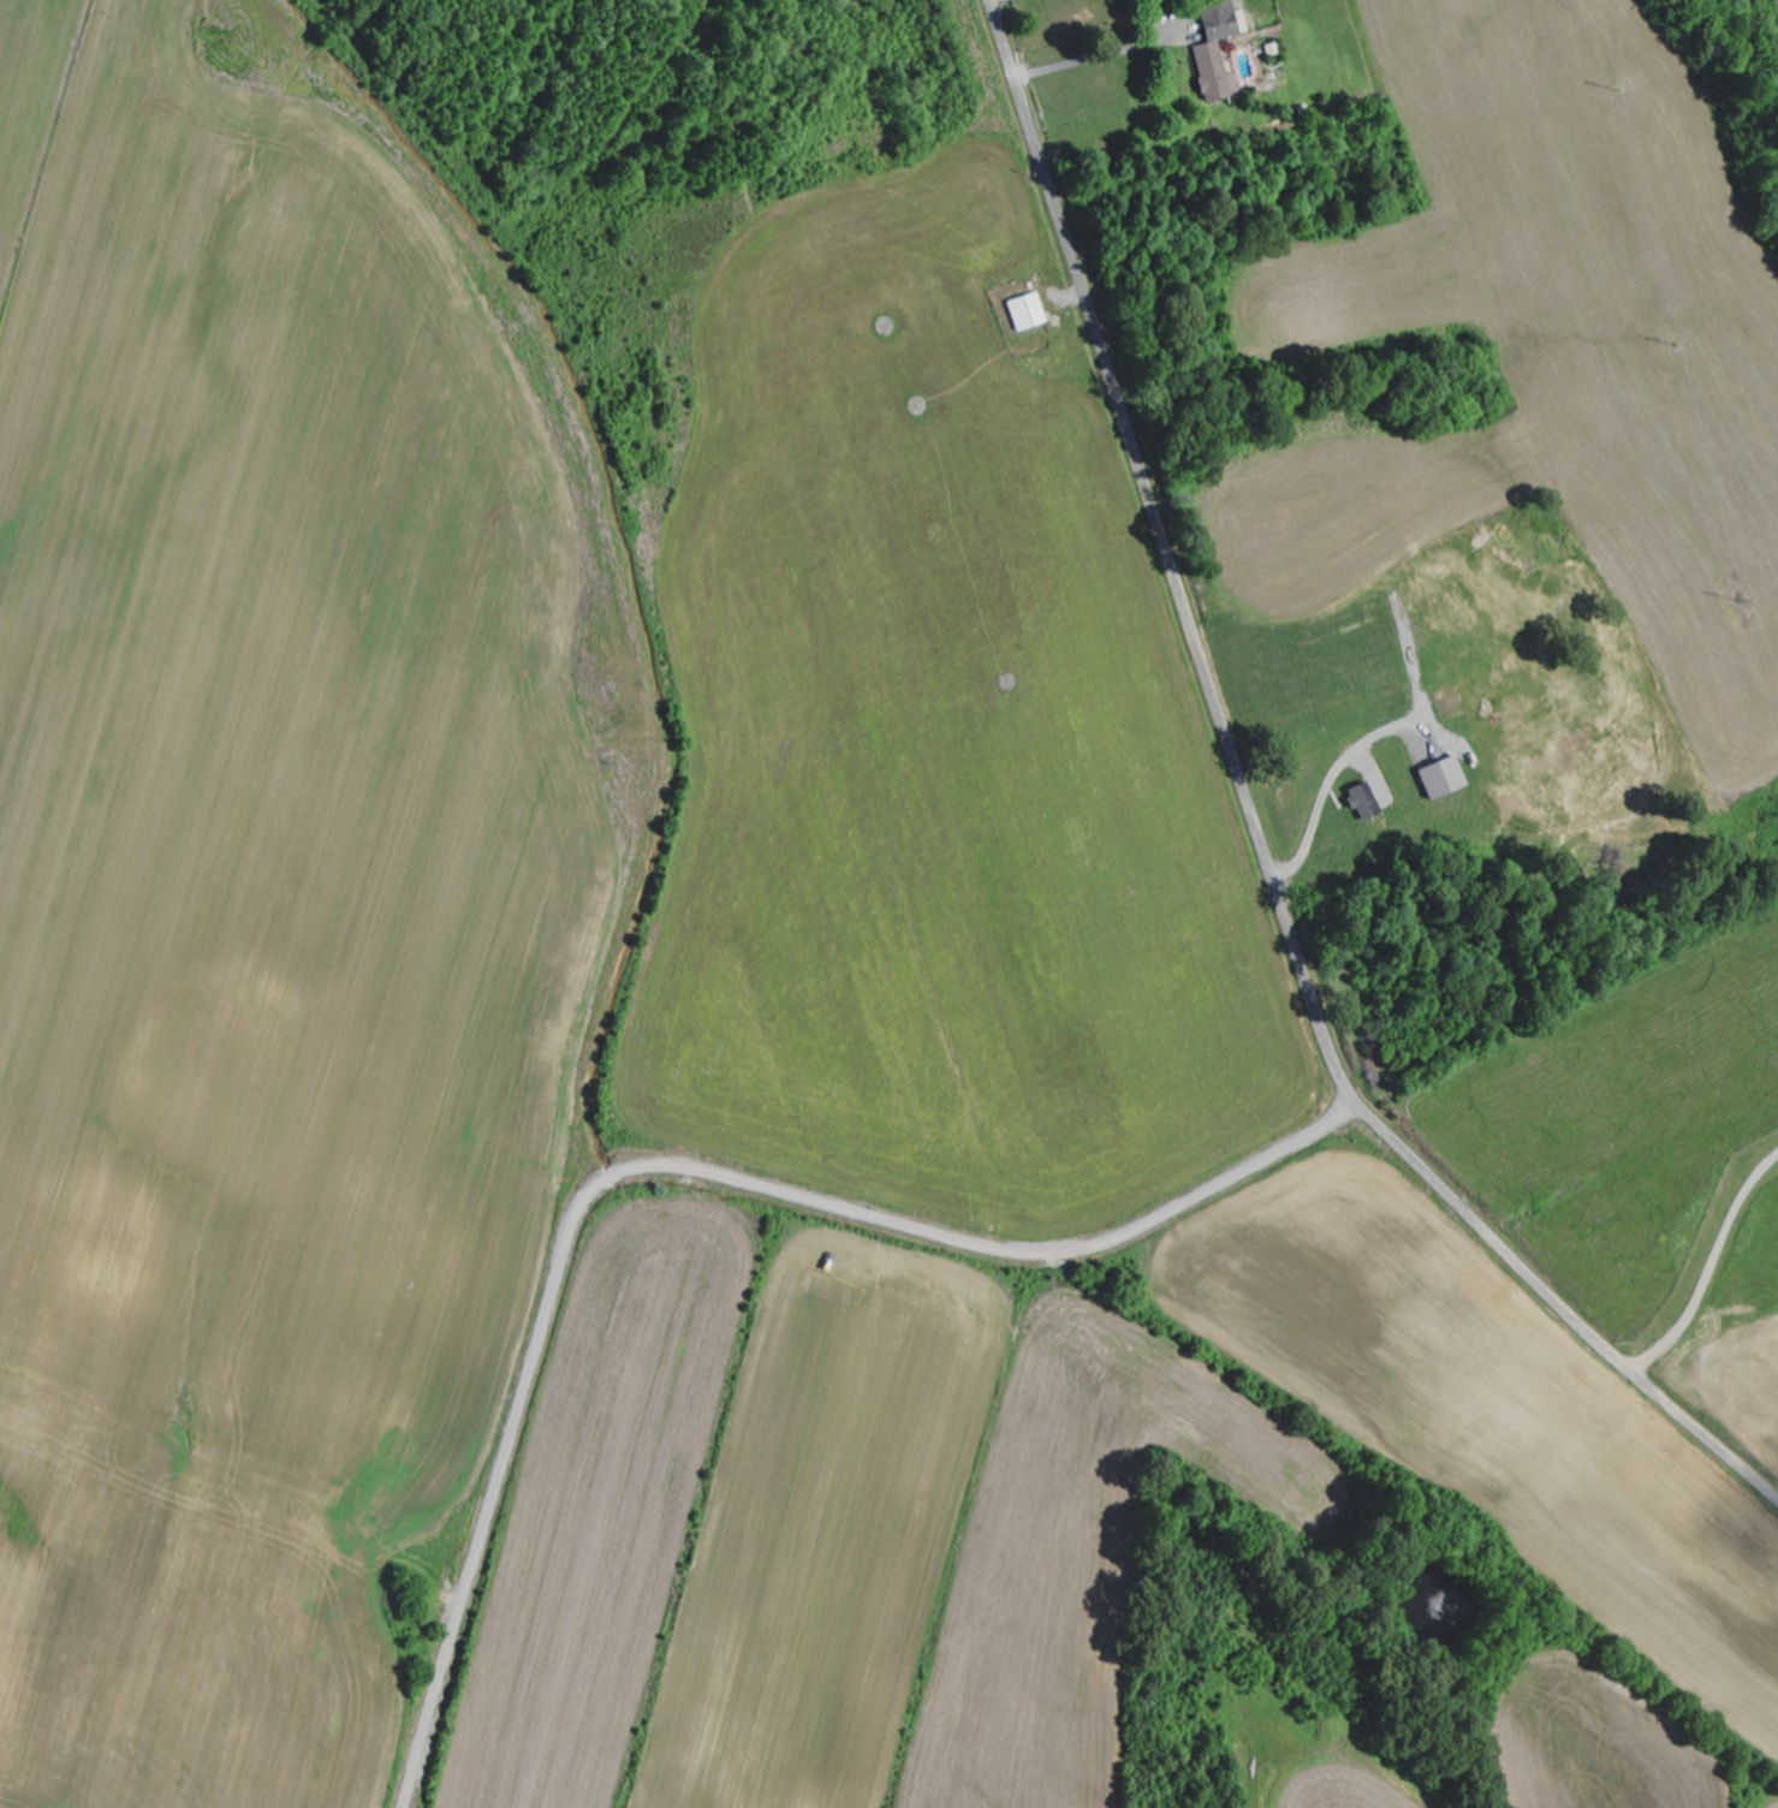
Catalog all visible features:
building: (1221, 53)
building: (1031, 313)
building: (1447, 778)
building: (1368, 801)
road: (1256, 828)
road: (674, 1168)

